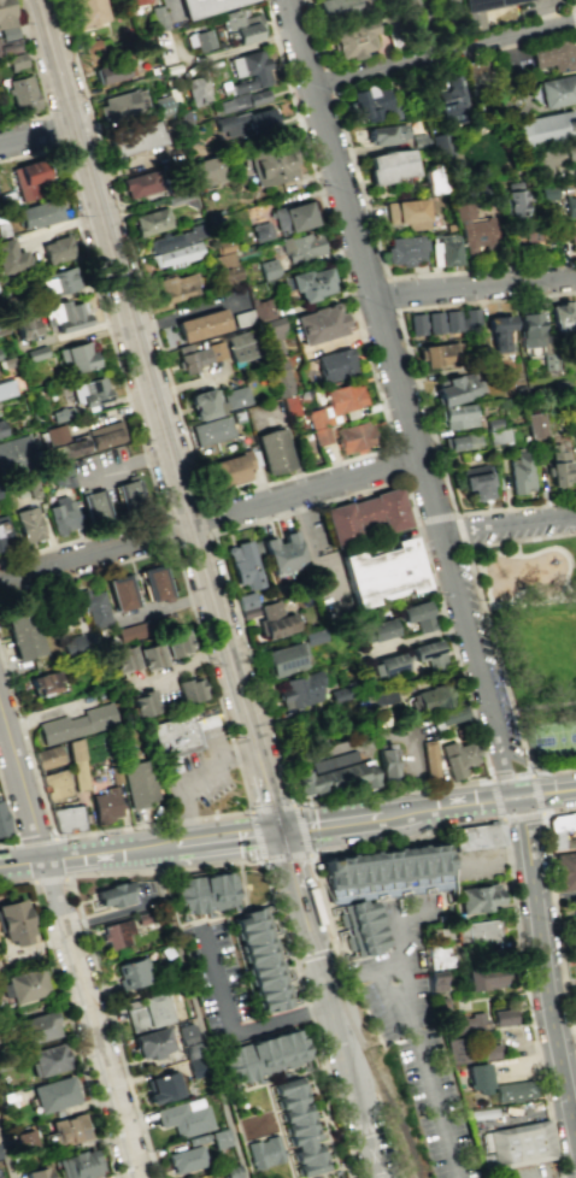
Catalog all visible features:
building: (135, 1)
building: (399, 2)
road: (575, 4)
building: (204, 6)
building: (339, 8)
building: (84, 11)
building: (478, 11)
building: (5, 16)
building: (242, 25)
building: (202, 40)
road: (319, 40)
building: (354, 40)
road: (443, 53)
building: (553, 58)
building: (16, 60)
building: (248, 70)
building: (111, 72)
road: (39, 83)
building: (196, 89)
building: (559, 90)
building: (23, 94)
building: (370, 101)
building: (448, 101)
building: (121, 104)
building: (160, 105)
building: (242, 122)
building: (542, 128)
building: (386, 134)
road: (55, 135)
road: (40, 137)
building: (135, 139)
building: (440, 143)
building: (560, 153)
building: (269, 163)
building: (539, 163)
building: (389, 166)
building: (206, 170)
building: (431, 178)
building: (28, 179)
building: (140, 184)
building: (548, 194)
building: (515, 202)
building: (570, 205)
building: (406, 212)
building: (39, 213)
building: (293, 217)
building: (151, 220)
building: (259, 231)
building: (478, 234)
building: (175, 238)
building: (572, 241)
building: (301, 246)
building: (55, 249)
building: (409, 251)
building: (449, 252)
building: (174, 255)
building: (11, 257)
building: (266, 267)
road: (366, 269)
road: (387, 270)
railway: (116, 273)
building: (224, 273)
building: (57, 282)
building: (307, 282)
building: (176, 287)
road: (475, 289)
road: (394, 295)
building: (64, 314)
building: (559, 317)
building: (452, 322)
building: (435, 323)
building: (316, 324)
building: (417, 324)
building: (200, 325)
building: (24, 326)
road: (401, 326)
building: (528, 329)
building: (498, 331)
building: (270, 335)
building: (240, 344)
building: (435, 354)
building: (76, 357)
building: (192, 359)
building: (334, 365)
road: (135, 377)
building: (278, 377)
road: (128, 387)
building: (5, 388)
building: (453, 389)
building: (88, 391)
building: (571, 391)
building: (234, 397)
building: (343, 397)
building: (201, 404)
building: (575, 407)
road: (161, 414)
building: (457, 416)
building: (315, 417)
building: (492, 423)
building: (534, 424)
building: (0, 430)
building: (210, 430)
building: (105, 435)
building: (319, 435)
building: (496, 435)
building: (353, 436)
building: (460, 442)
building: (61, 443)
building: (271, 450)
building: (14, 455)
building: (558, 465)
building: (228, 470)
building: (521, 472)
building: (60, 475)
building: (477, 485)
road: (275, 489)
building: (128, 493)
building: (94, 506)
road: (516, 507)
building: (61, 516)
building: (364, 516)
road: (435, 519)
building: (28, 524)
road: (210, 524)
road: (213, 525)
road: (507, 529)
road: (169, 531)
building: (4, 534)
road: (462, 534)
road: (419, 538)
building: (281, 553)
building: (242, 565)
building: (381, 572)
building: (155, 583)
building: (121, 591)
building: (246, 605)
building: (93, 606)
road: (531, 607)
road: (486, 611)
building: (416, 615)
building: (274, 620)
building: (133, 630)
building: (376, 630)
building: (22, 631)
park: (537, 641)
building: (176, 643)
building: (72, 644)
building: (427, 653)
building: (151, 655)
building: (123, 658)
building: (283, 659)
building: (386, 665)
road: (476, 665)
building: (45, 683)
building: (190, 689)
building: (298, 690)
building: (340, 691)
building: (429, 697)
building: (143, 703)
building: (452, 715)
building: (76, 723)
building: (178, 740)
park: (557, 744)
building: (47, 756)
building: (457, 756)
building: (429, 758)
building: (386, 760)
railway: (259, 764)
building: (75, 765)
road: (283, 770)
road: (553, 770)
parking lot: (199, 774)
building: (333, 774)
road: (510, 774)
road: (196, 778)
road: (242, 782)
building: (139, 783)
building: (54, 784)
road: (530, 787)
road: (563, 789)
road: (495, 790)
road: (258, 793)
road: (535, 793)
road: (495, 799)
road: (535, 799)
road: (501, 802)
building: (105, 805)
road: (443, 806)
road: (272, 808)
road: (10, 811)
road: (521, 817)
building: (66, 819)
building: (2, 821)
road: (341, 821)
road: (471, 824)
building: (560, 827)
traffic signals: (287, 829)
traffic signals: (278, 830)
road: (274, 831)
road: (300, 831)
traffic signals: (269, 832)
road: (257, 837)
building: (477, 837)
road: (212, 838)
road: (37, 841)
road: (10, 844)
road: (78, 855)
road: (59, 856)
road: (286, 858)
road: (22, 861)
parking lot: (481, 868)
building: (564, 871)
road: (84, 874)
road: (300, 874)
road: (47, 878)
building: (377, 889)
building: (113, 894)
road: (553, 894)
building: (204, 895)
building: (477, 897)
road: (554, 902)
building: (572, 906)
road: (295, 920)
building: (13, 923)
building: (476, 931)
building: (116, 933)
building: (575, 933)
road: (67, 942)
building: (575, 953)
road: (315, 955)
building: (436, 956)
road: (398, 962)
building: (257, 964)
road: (325, 964)
building: (131, 973)
road: (542, 973)
parking lot: (401, 974)
building: (483, 977)
parking lot: (219, 980)
building: (435, 980)
building: (22, 986)
building: (146, 1011)
road: (66, 1015)
road: (574, 1017)
road: (308, 1018)
building: (507, 1018)
building: (466, 1025)
building: (39, 1026)
road: (411, 1029)
road: (234, 1033)
building: (151, 1042)
building: (263, 1046)
road: (534, 1048)
building: (190, 1049)
building: (459, 1054)
building: (492, 1054)
building: (47, 1059)
road: (534, 1066)
railway: (374, 1077)
building: (481, 1082)
building: (161, 1086)
road: (355, 1091)
building: (516, 1092)
building: (53, 1094)
park: (394, 1100)
road: (437, 1102)
road: (335, 1103)
parking lot: (436, 1106)
railway: (393, 1113)
building: (184, 1117)
building: (298, 1123)
building: (67, 1129)
building: (219, 1138)
building: (23, 1142)
road: (8, 1144)
building: (522, 1147)
building: (264, 1152)
building: (186, 1158)
building: (78, 1165)
building: (37, 1172)
building: (230, 1172)
parking lot: (535, 1173)
building: (337, 1176)

